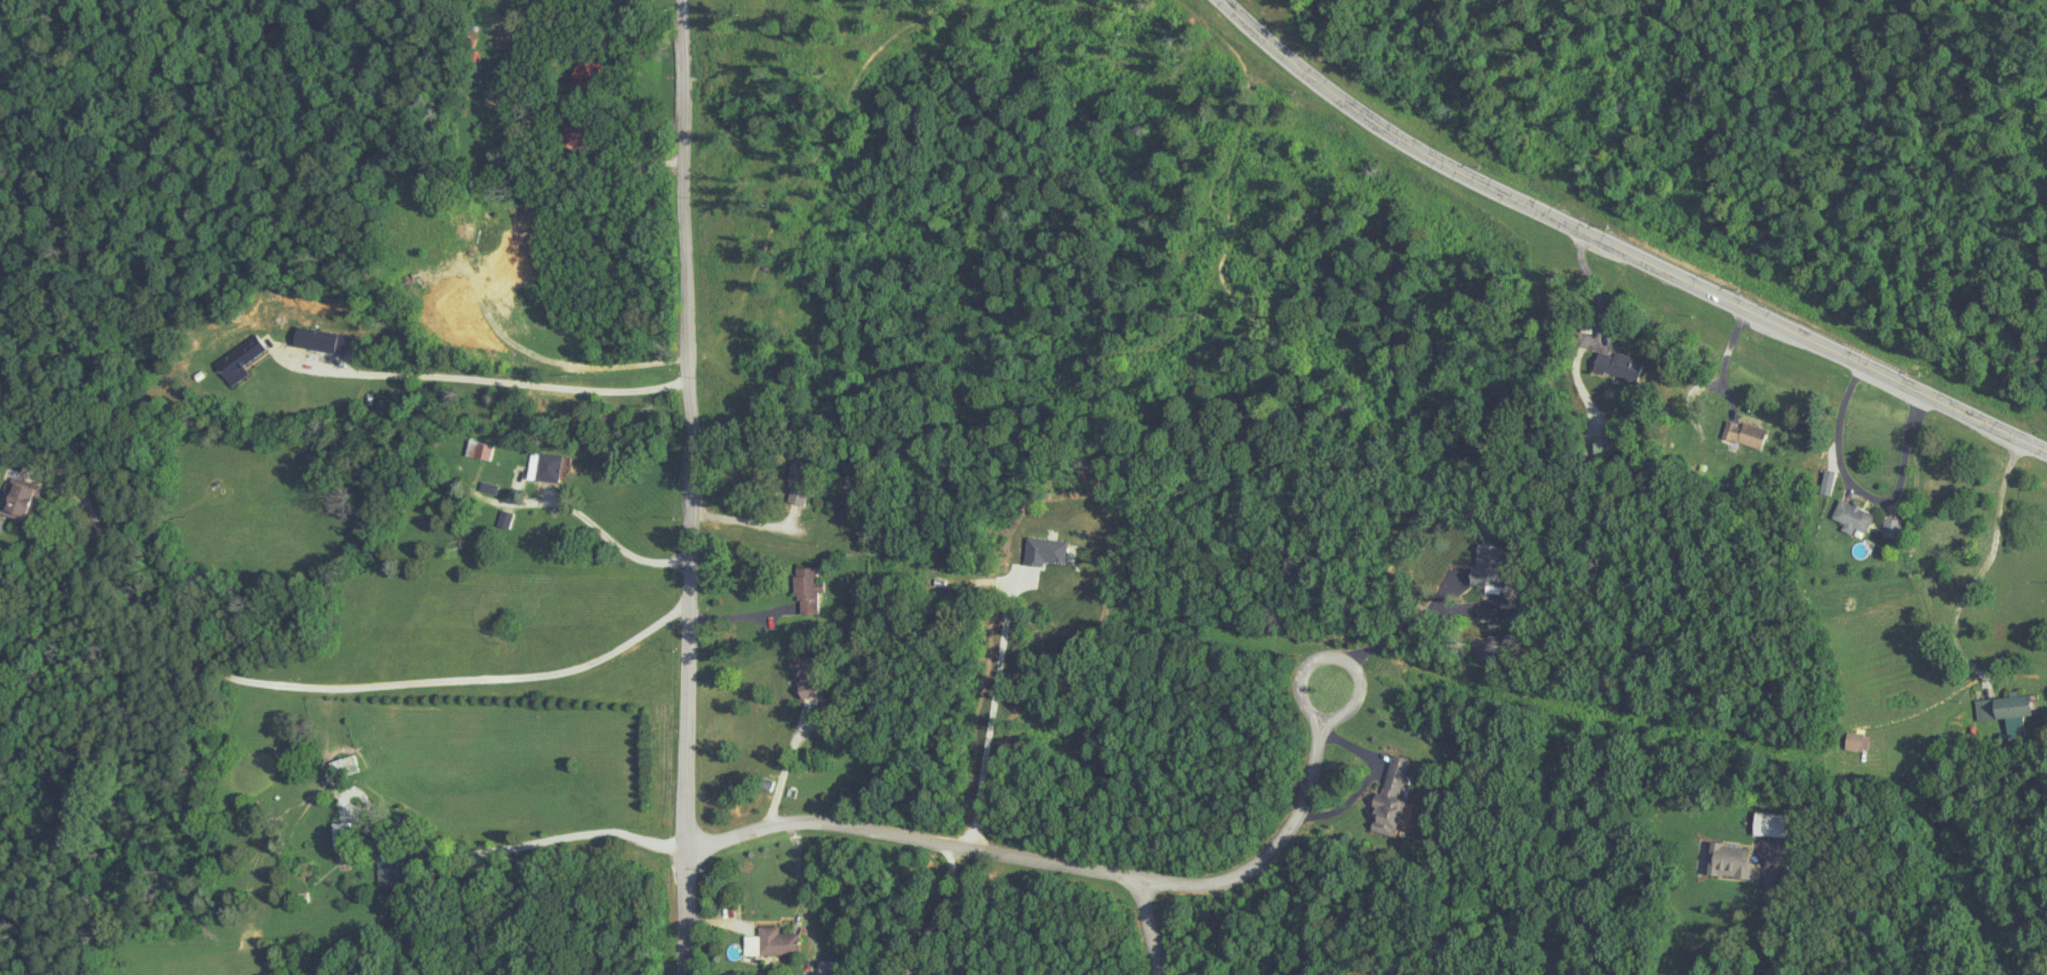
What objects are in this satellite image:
building: (482, 245)
road: (1615, 253)
building: (452, 316)
building: (314, 339)
building: (239, 355)
road: (1730, 359)
building: (1616, 364)
road: (506, 383)
building: (1743, 434)
building: (1603, 445)
building: (478, 450)
building: (545, 467)
building: (796, 483)
road: (684, 487)
road: (1872, 493)
building: (19, 499)
building: (1852, 518)
building: (503, 519)
building: (1890, 528)
road: (599, 531)
road: (1991, 558)
building: (805, 590)
road: (1406, 626)
building: (804, 677)
road: (351, 688)
building: (2002, 706)
road: (994, 721)
building: (1852, 741)
road: (785, 767)
building: (1390, 791)
building: (1766, 822)
building: (340, 834)
road: (535, 845)
building: (1727, 859)
building: (388, 864)
road: (1151, 878)
road: (1156, 926)
building: (776, 942)

